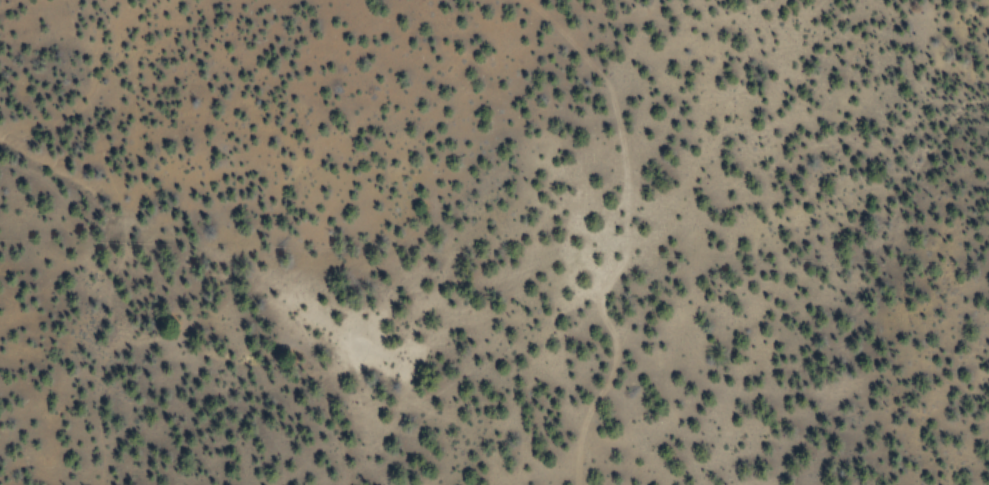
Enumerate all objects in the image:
road: (569, 415)

